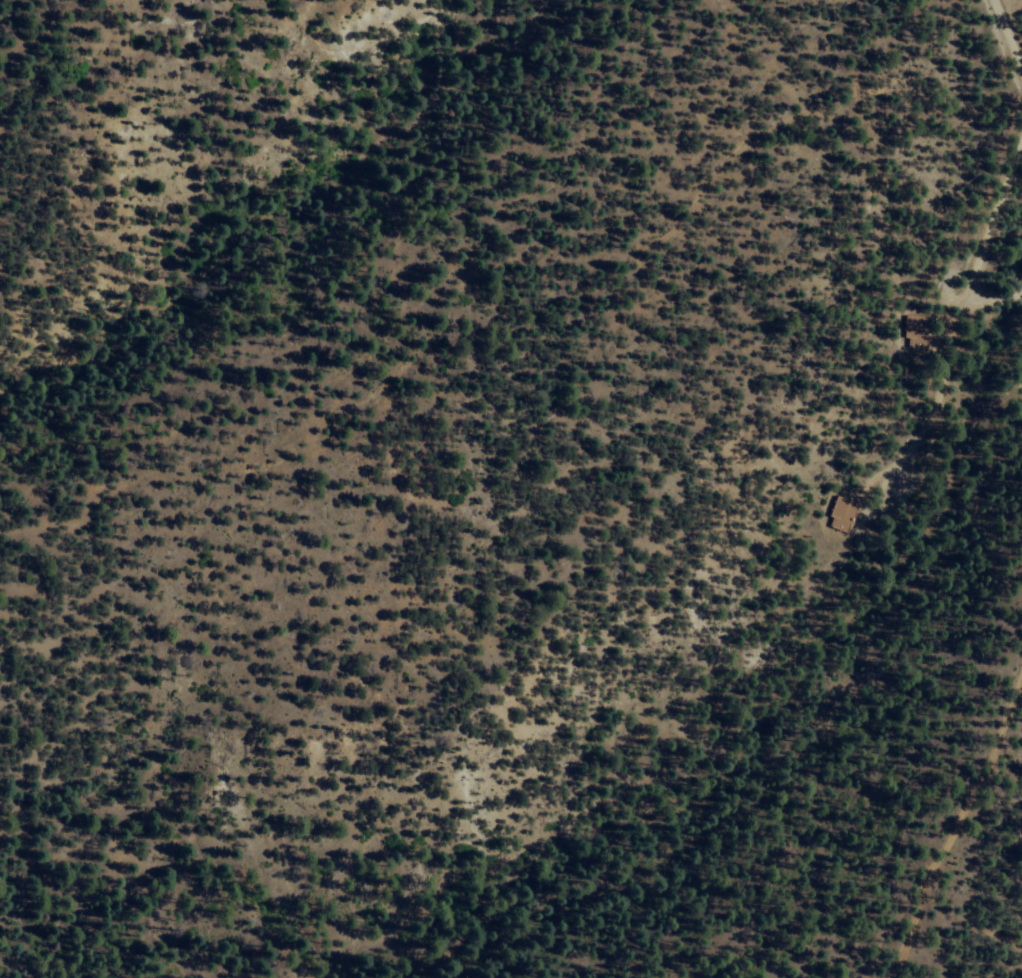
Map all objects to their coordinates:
road: (1005, 43)
road: (981, 243)
building: (913, 333)
road: (1020, 406)
building: (836, 518)

